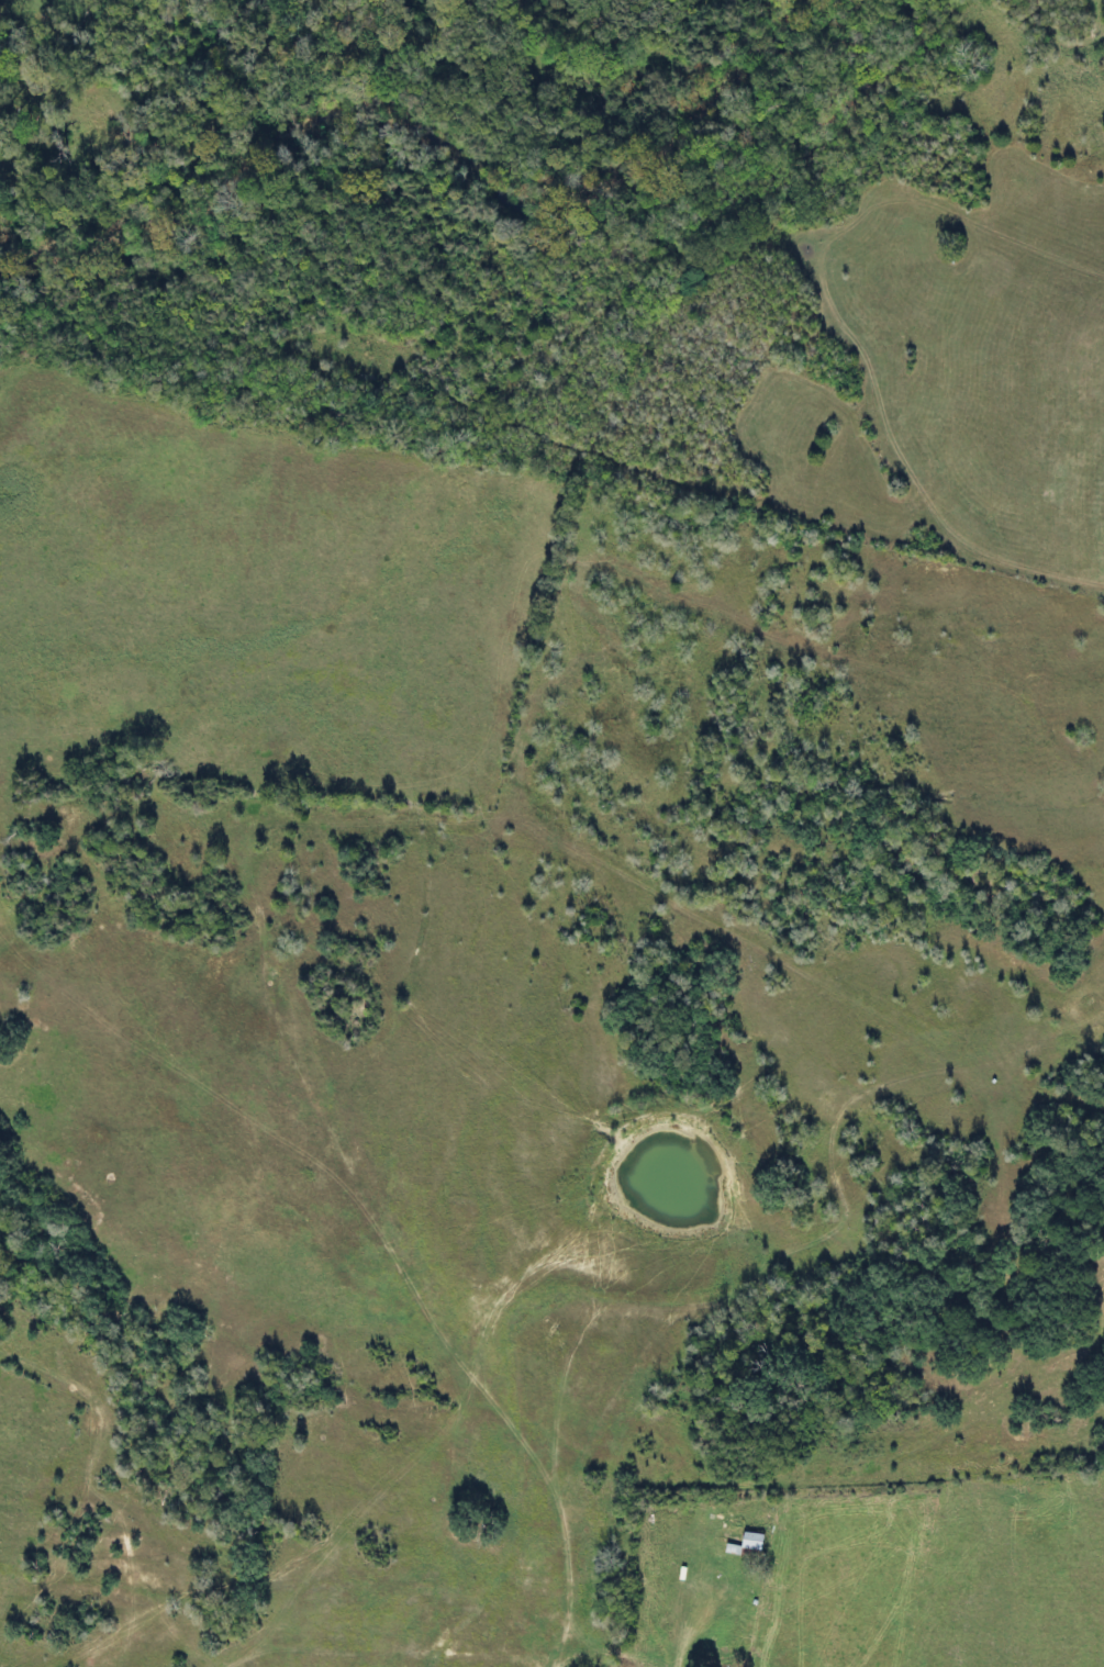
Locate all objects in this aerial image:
road: (451, 1342)
building: (744, 1543)

